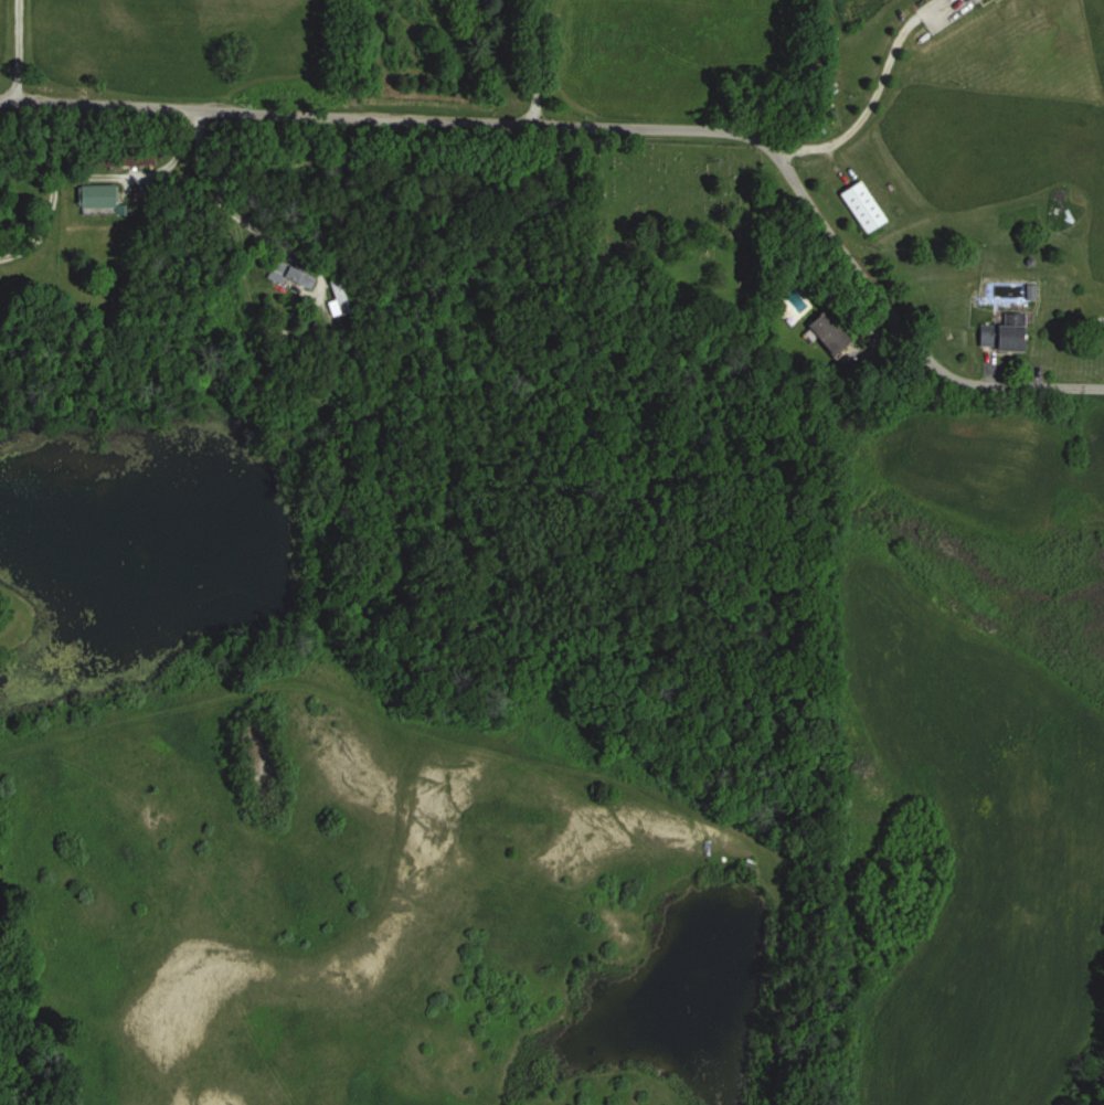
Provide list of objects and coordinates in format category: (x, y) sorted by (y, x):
building: (988, 0)
road: (18, 51)
road: (535, 63)
road: (871, 97)
road: (611, 128)
building: (136, 159)
road: (145, 174)
road: (53, 190)
building: (96, 195)
road: (219, 198)
building: (862, 206)
park: (670, 220)
building: (289, 275)
building: (338, 298)
building: (829, 333)
building: (1004, 333)

